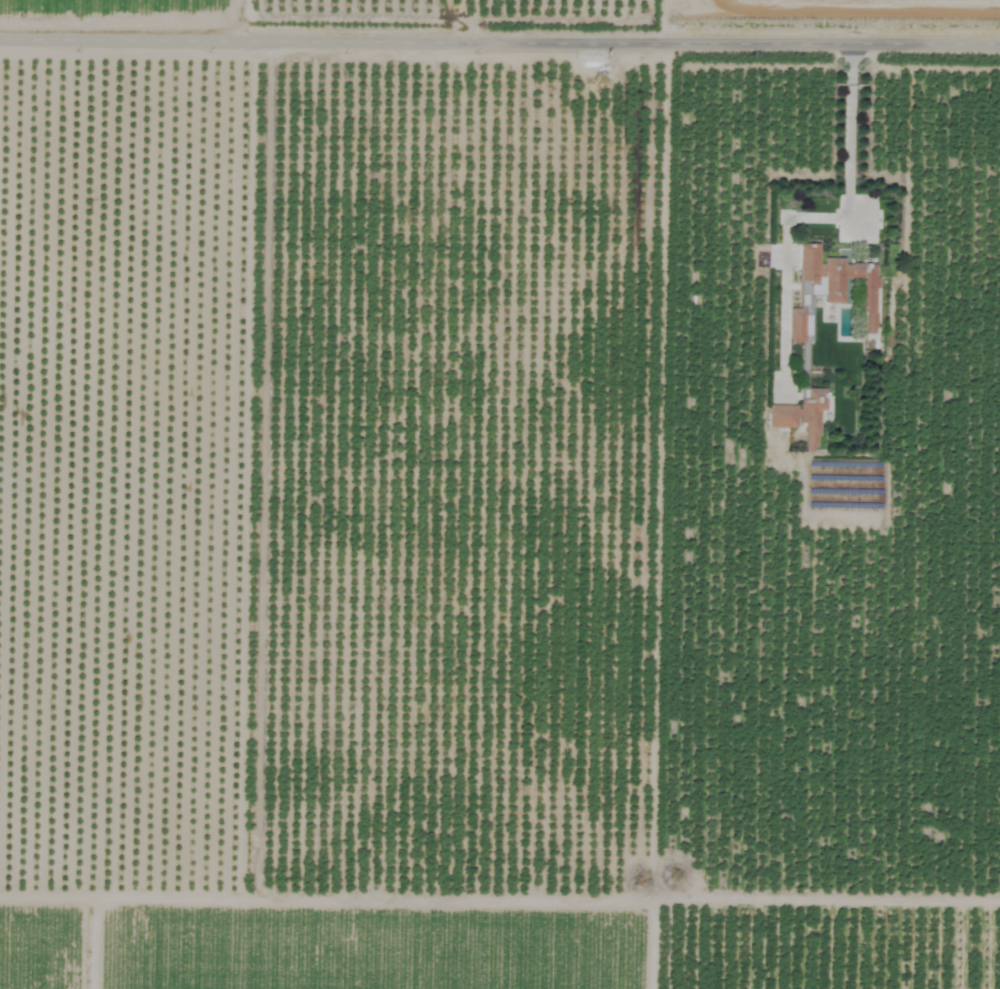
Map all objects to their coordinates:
road: (499, 39)
road: (816, 218)
building: (837, 281)
building: (795, 325)
building: (800, 418)
crop: (500, 494)

